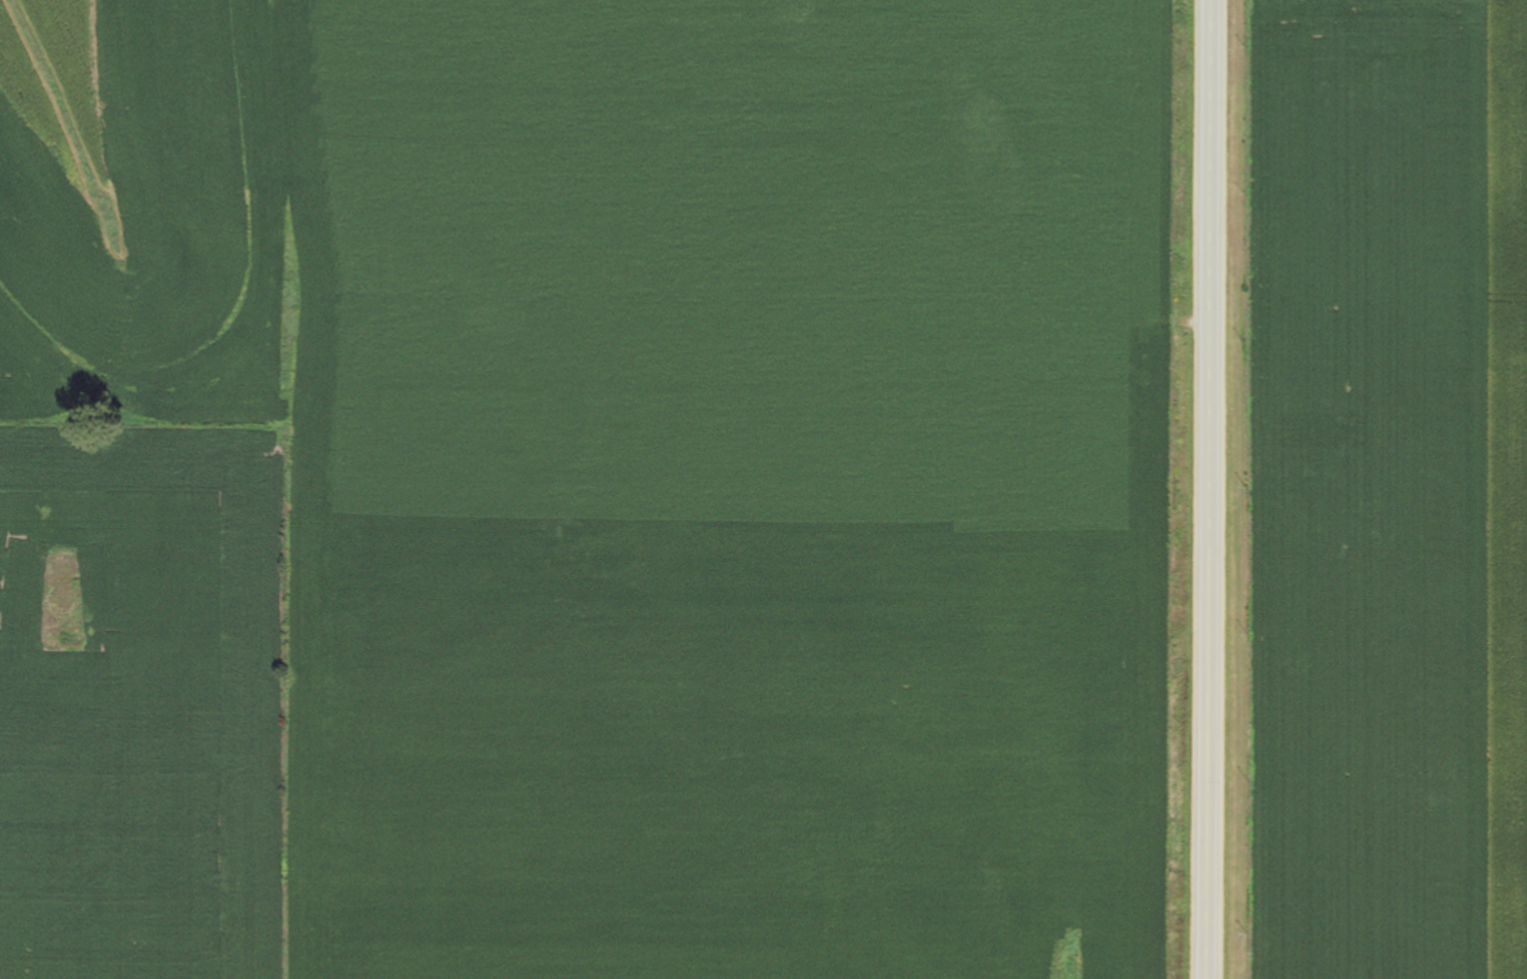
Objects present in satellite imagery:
road: (1213, 489)

